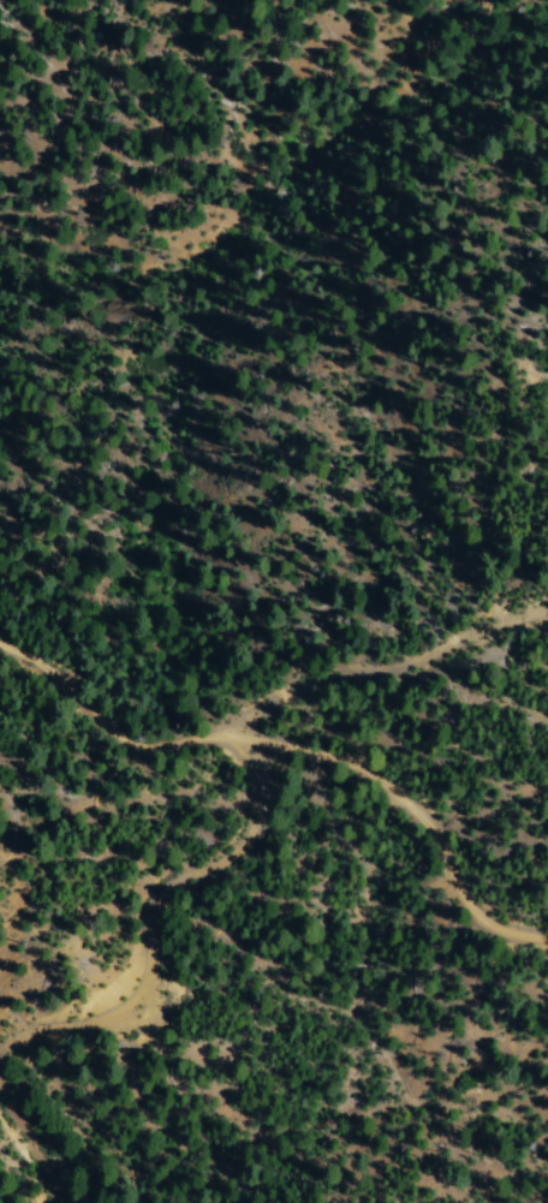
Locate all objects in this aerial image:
road: (298, 824)

